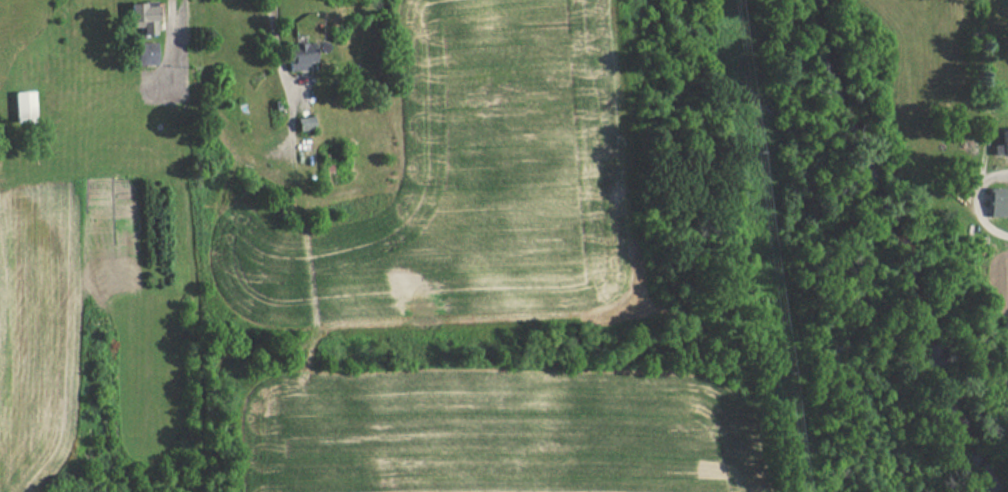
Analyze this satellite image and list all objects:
building: (138, 18)
road: (273, 32)
road: (170, 42)
building: (142, 53)
building: (292, 55)
building: (19, 106)
building: (1000, 141)
road: (977, 194)
building: (999, 198)

